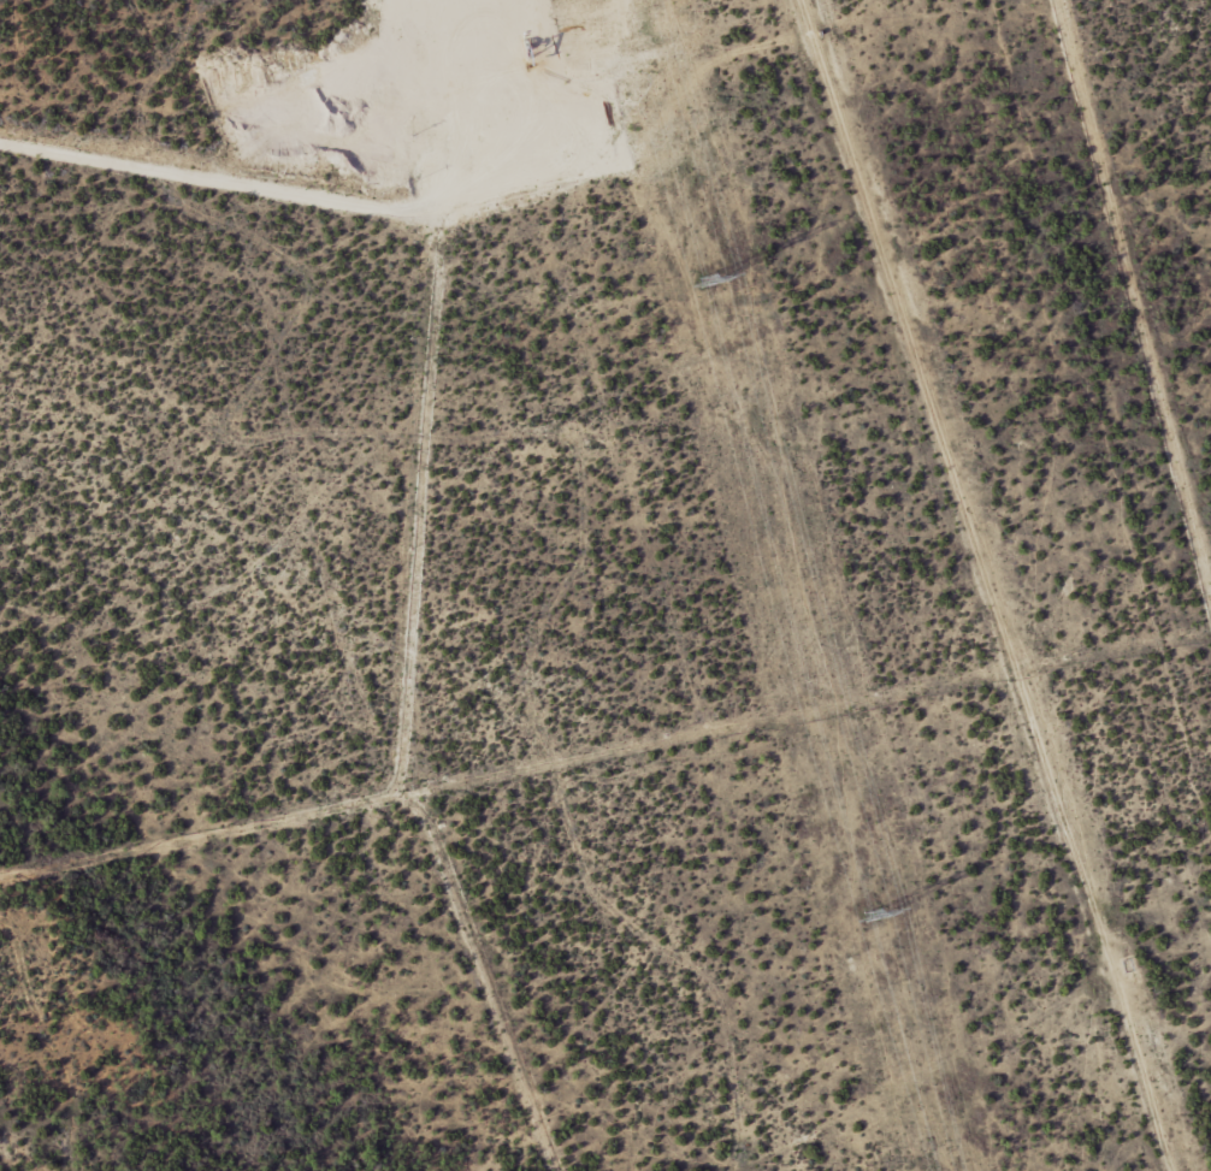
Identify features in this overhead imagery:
power tower: (704, 284)
power tower: (873, 910)

